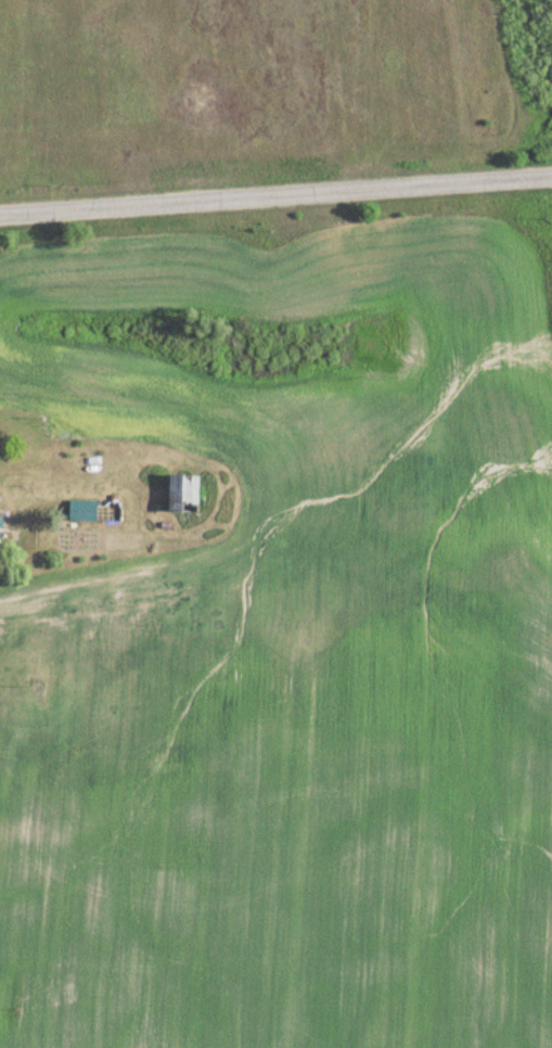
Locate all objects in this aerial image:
road: (275, 195)
building: (187, 495)
building: (86, 511)
building: (1, 531)

